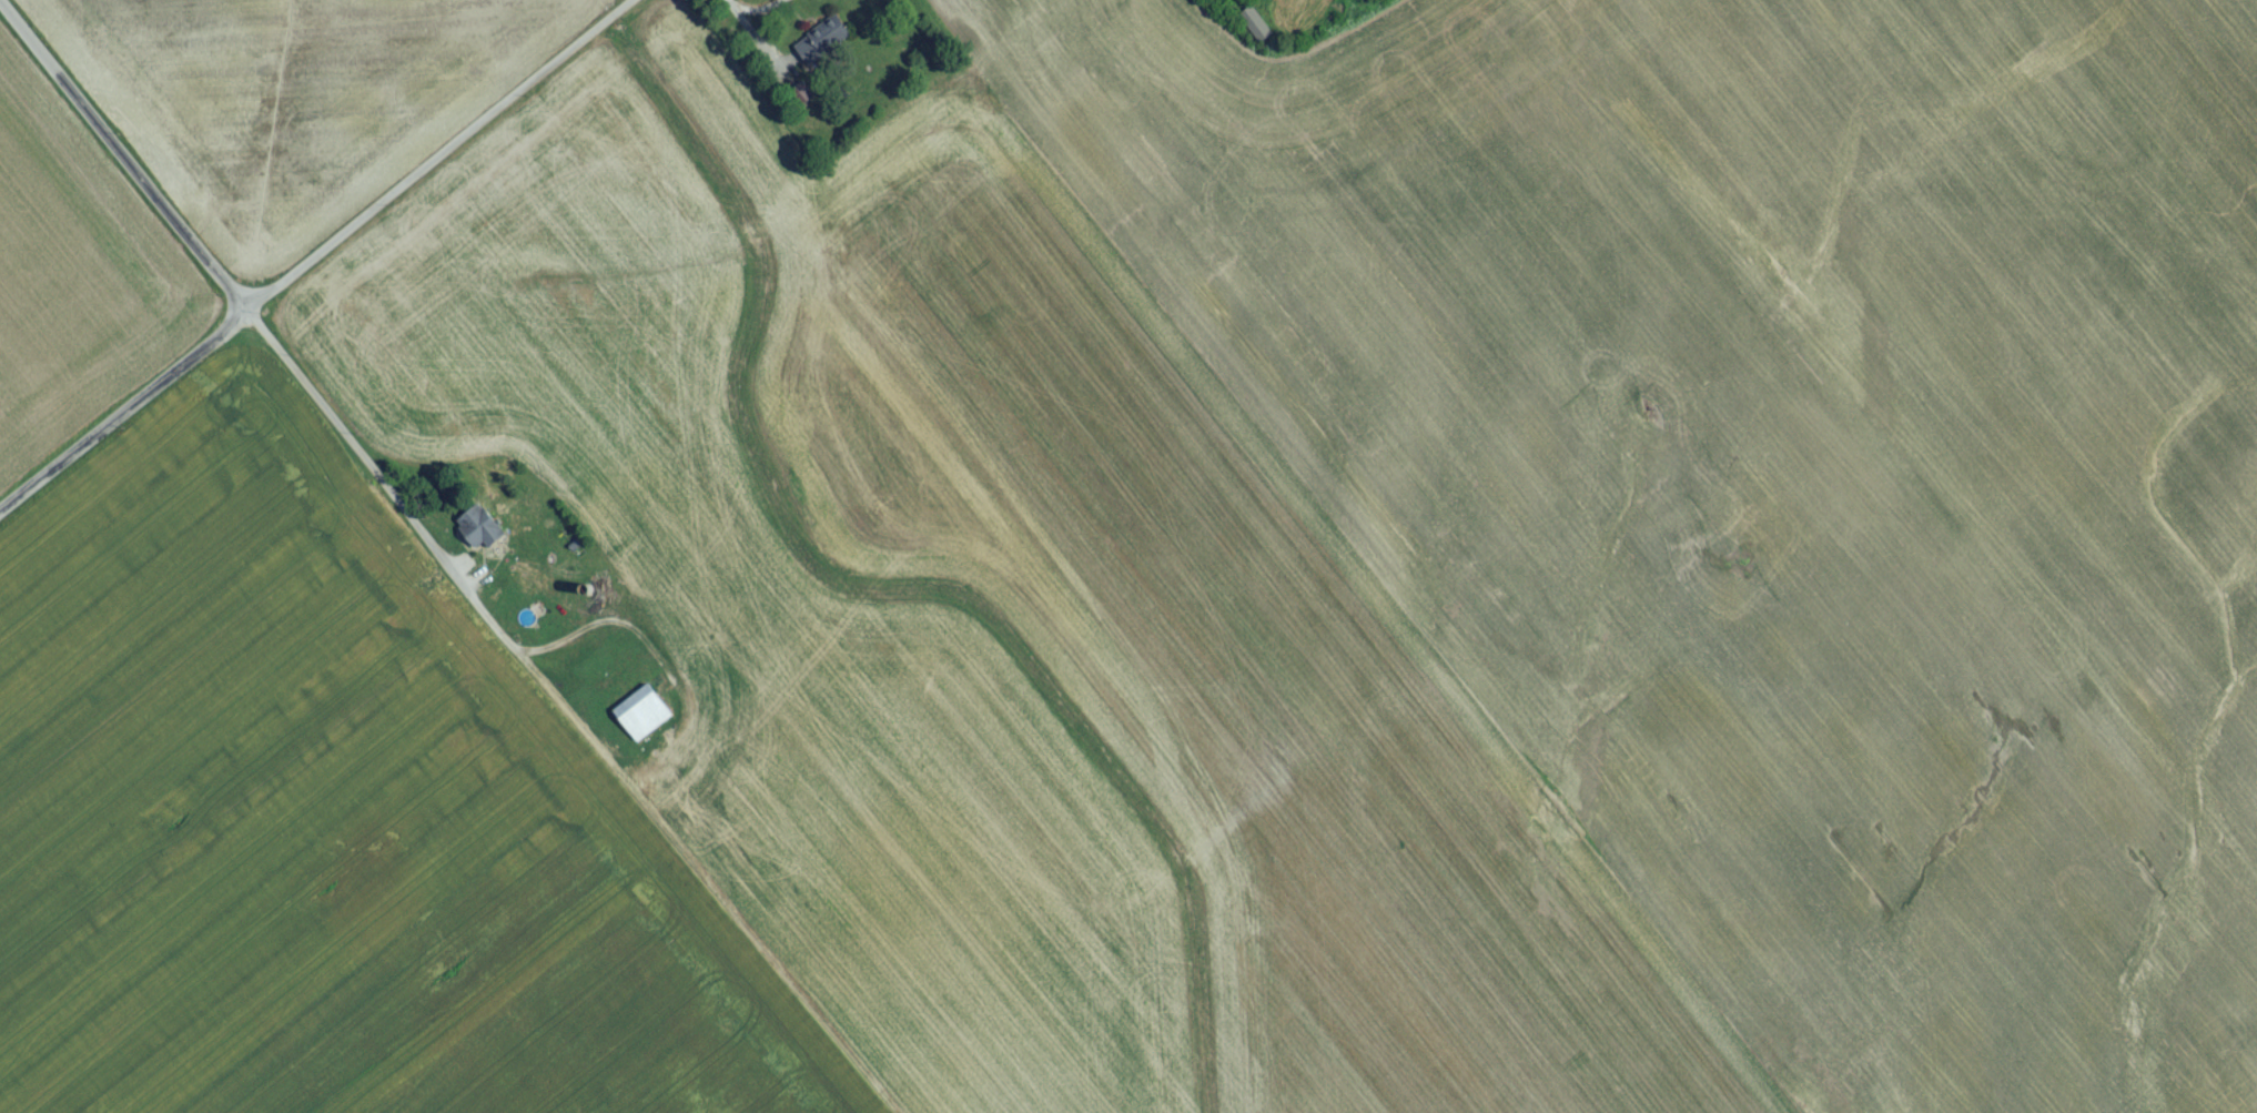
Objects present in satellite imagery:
building: (1374, 0)
road: (755, 11)
road: (759, 37)
building: (823, 44)
road: (447, 158)
road: (122, 161)
road: (124, 417)
building: (483, 533)
road: (565, 712)
building: (644, 718)

